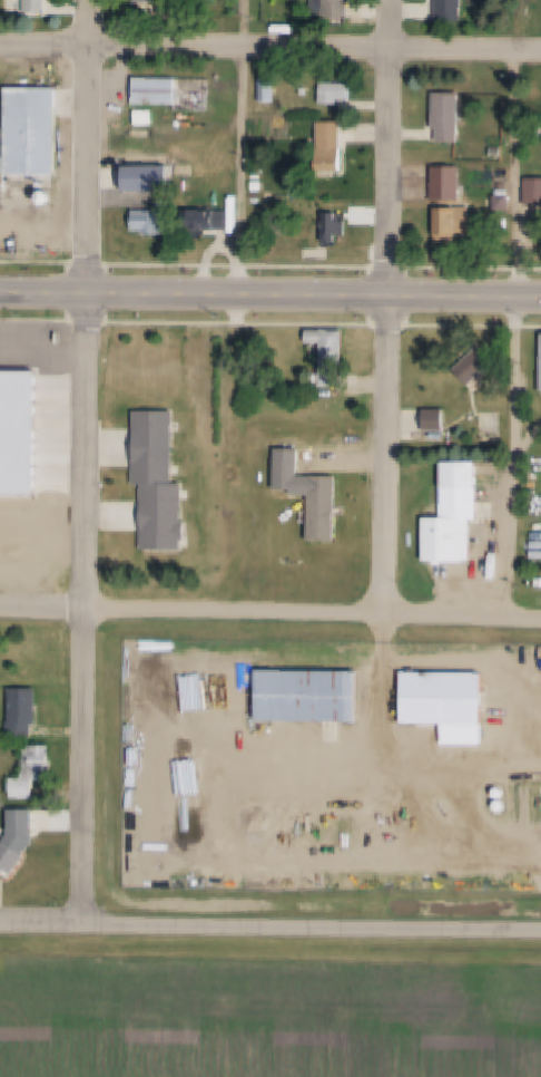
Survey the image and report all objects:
building: (144, 0)
building: (27, 4)
building: (331, 8)
building: (447, 9)
road: (269, 47)
building: (268, 88)
building: (171, 91)
building: (259, 91)
building: (332, 91)
building: (446, 116)
building: (40, 133)
building: (327, 143)
road: (248, 148)
building: (7, 151)
building: (148, 172)
road: (518, 174)
building: (532, 191)
building: (49, 198)
storage tank: (49, 198)
building: (501, 207)
building: (49, 211)
storage tank: (49, 211)
building: (206, 217)
building: (148, 220)
building: (449, 223)
building: (49, 224)
storage tank: (49, 224)
building: (335, 224)
road: (269, 299)
road: (396, 308)
building: (326, 355)
building: (539, 363)
building: (466, 368)
building: (432, 418)
road: (91, 462)
road: (512, 468)
building: (161, 481)
building: (321, 507)
building: (450, 515)
road: (45, 609)
road: (315, 613)
building: (303, 695)
building: (443, 702)
building: (26, 712)
building: (39, 763)
building: (502, 792)
storage tank: (502, 792)
building: (503, 804)
storage tank: (503, 804)
building: (12, 857)
road: (269, 925)

